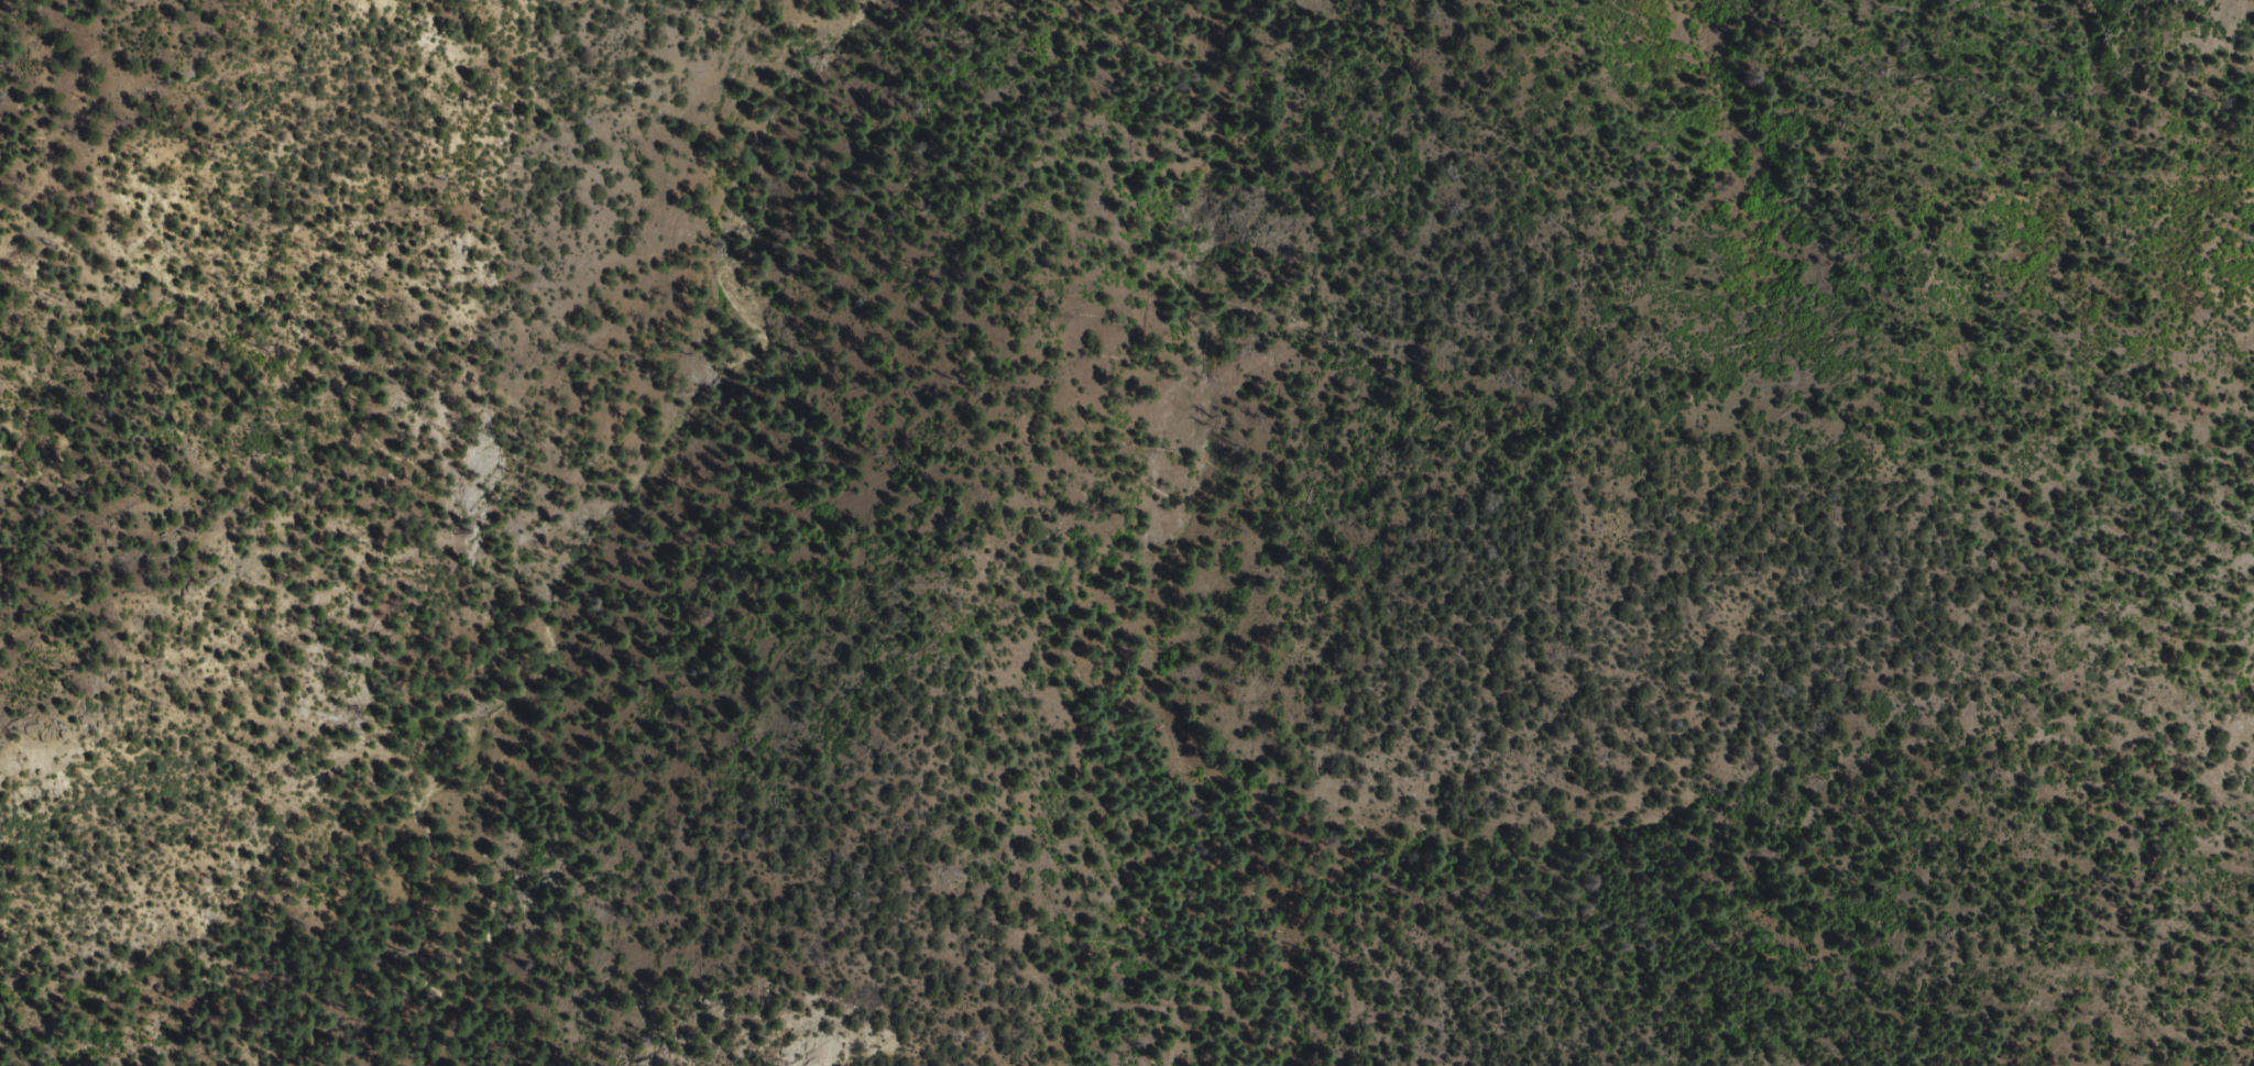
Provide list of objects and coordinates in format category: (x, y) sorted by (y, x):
road: (532, 536)

